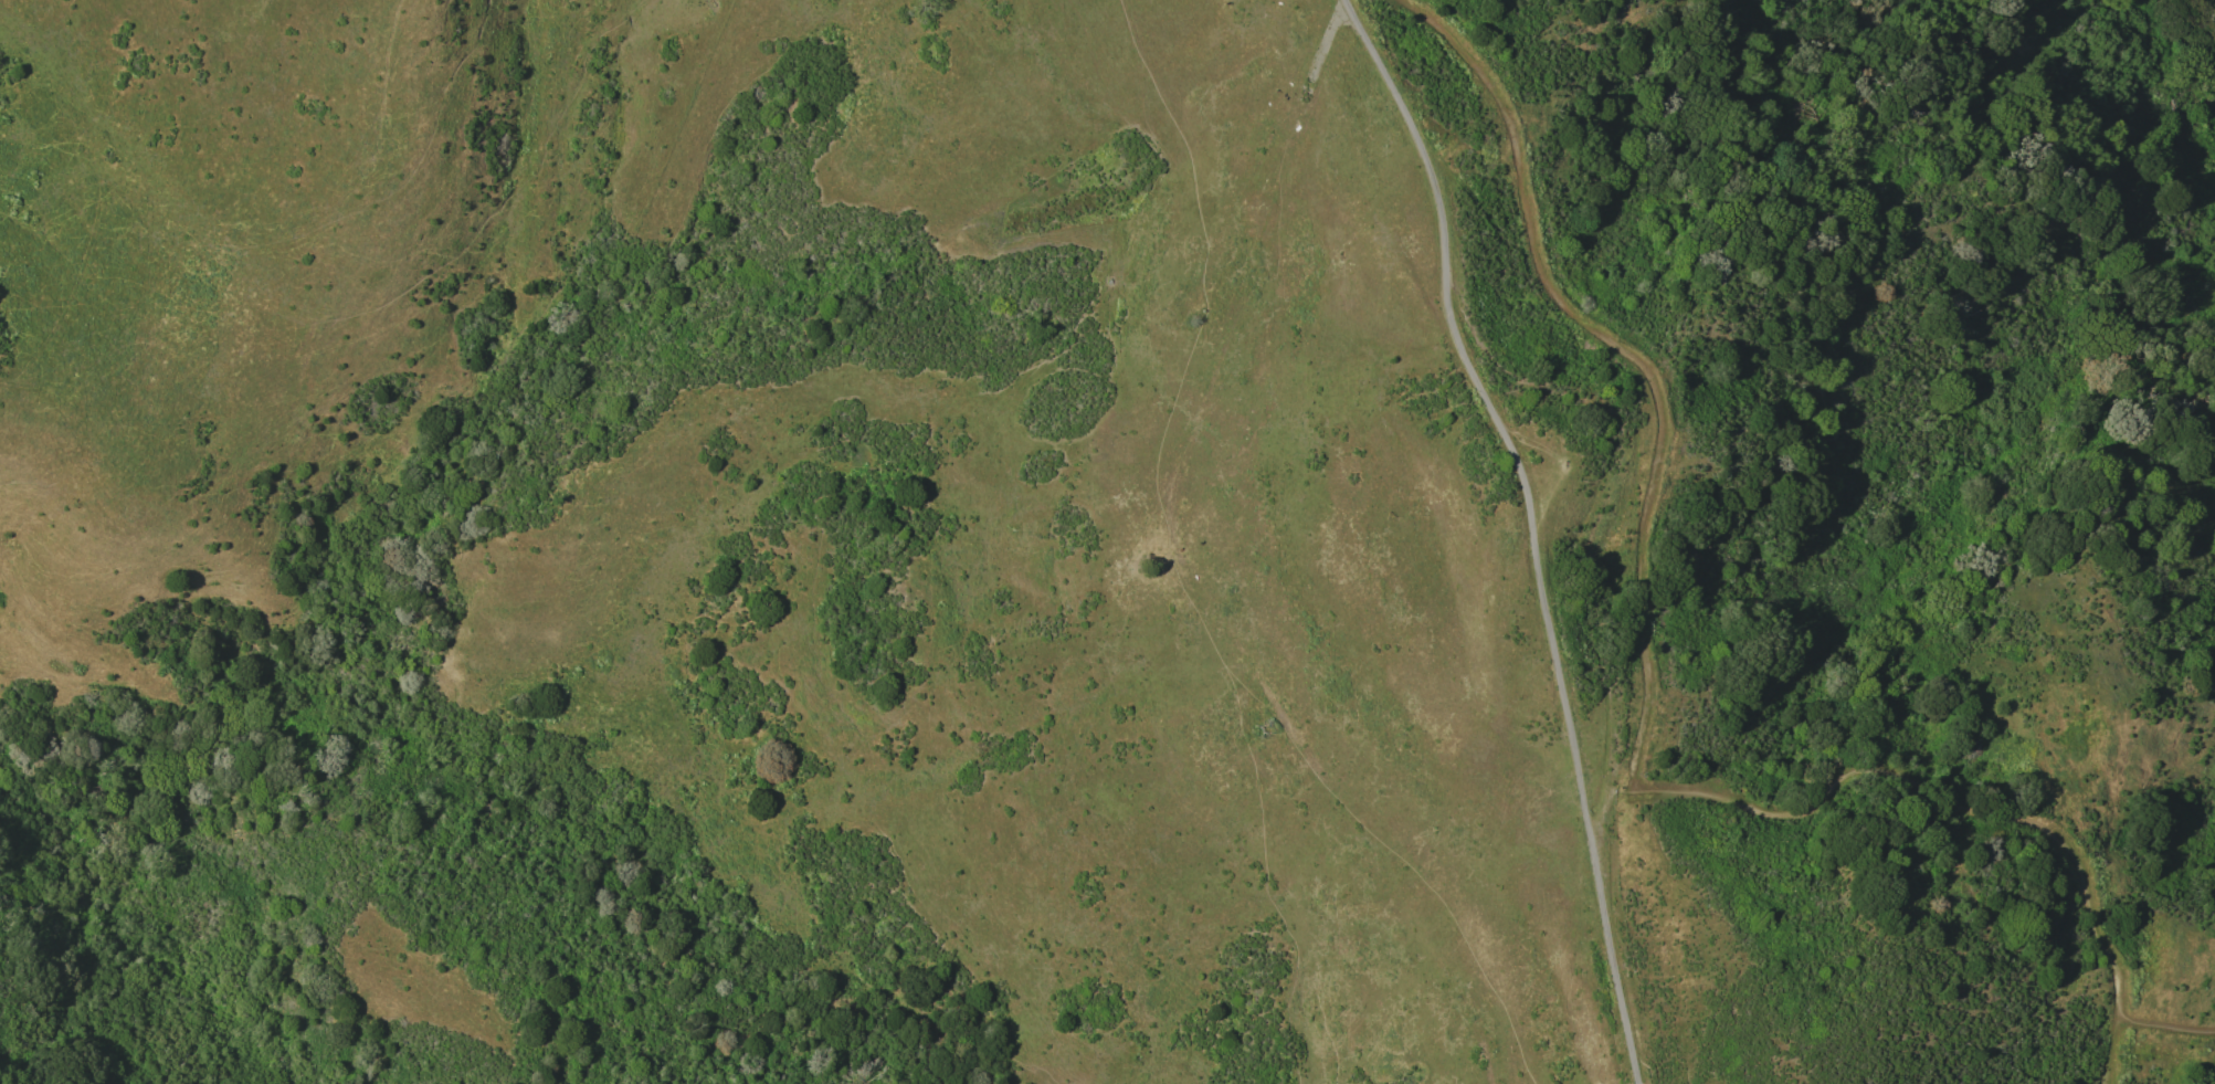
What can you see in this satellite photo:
road: (1635, 359)
road: (1491, 414)
road: (1183, 585)
road: (1974, 810)
road: (1602, 812)
road: (1614, 966)
road: (2116, 1053)

